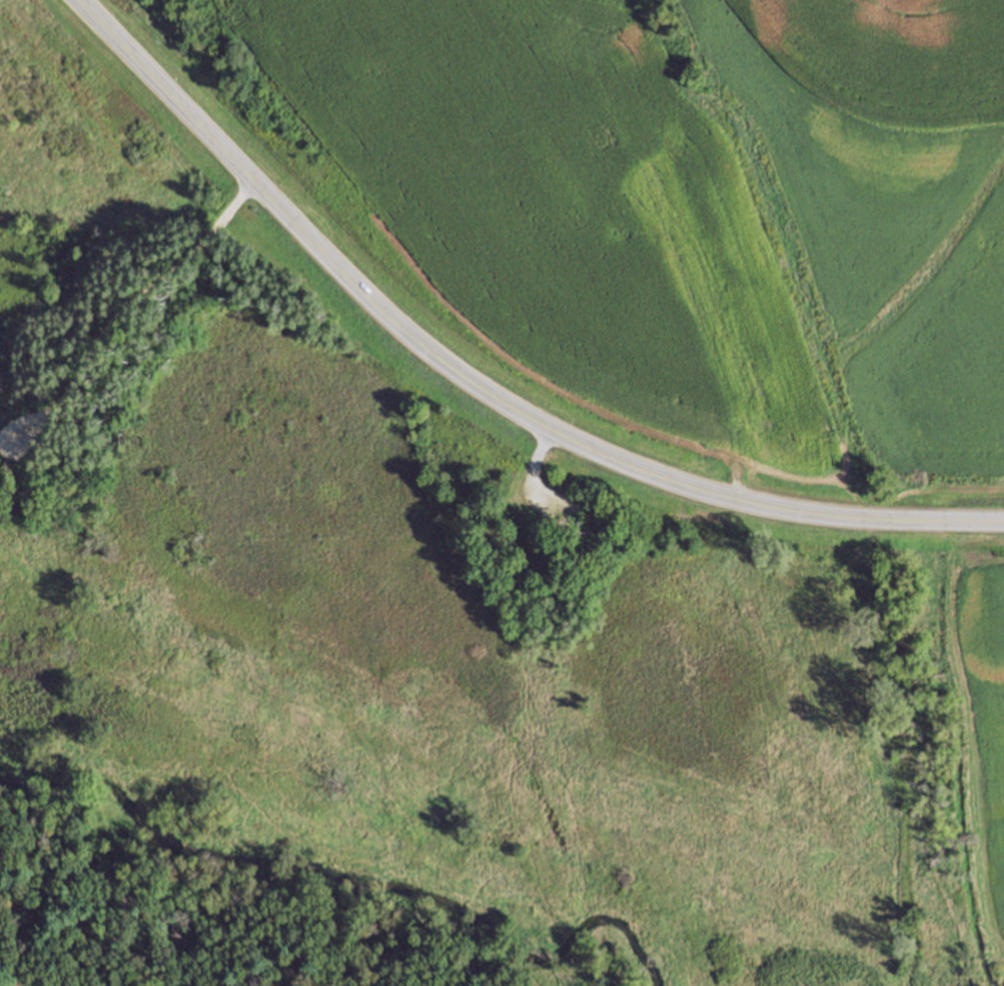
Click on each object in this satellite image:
road: (132, 314)
road: (476, 384)
parking lot: (22, 433)
road: (534, 470)
parking lot: (548, 501)

